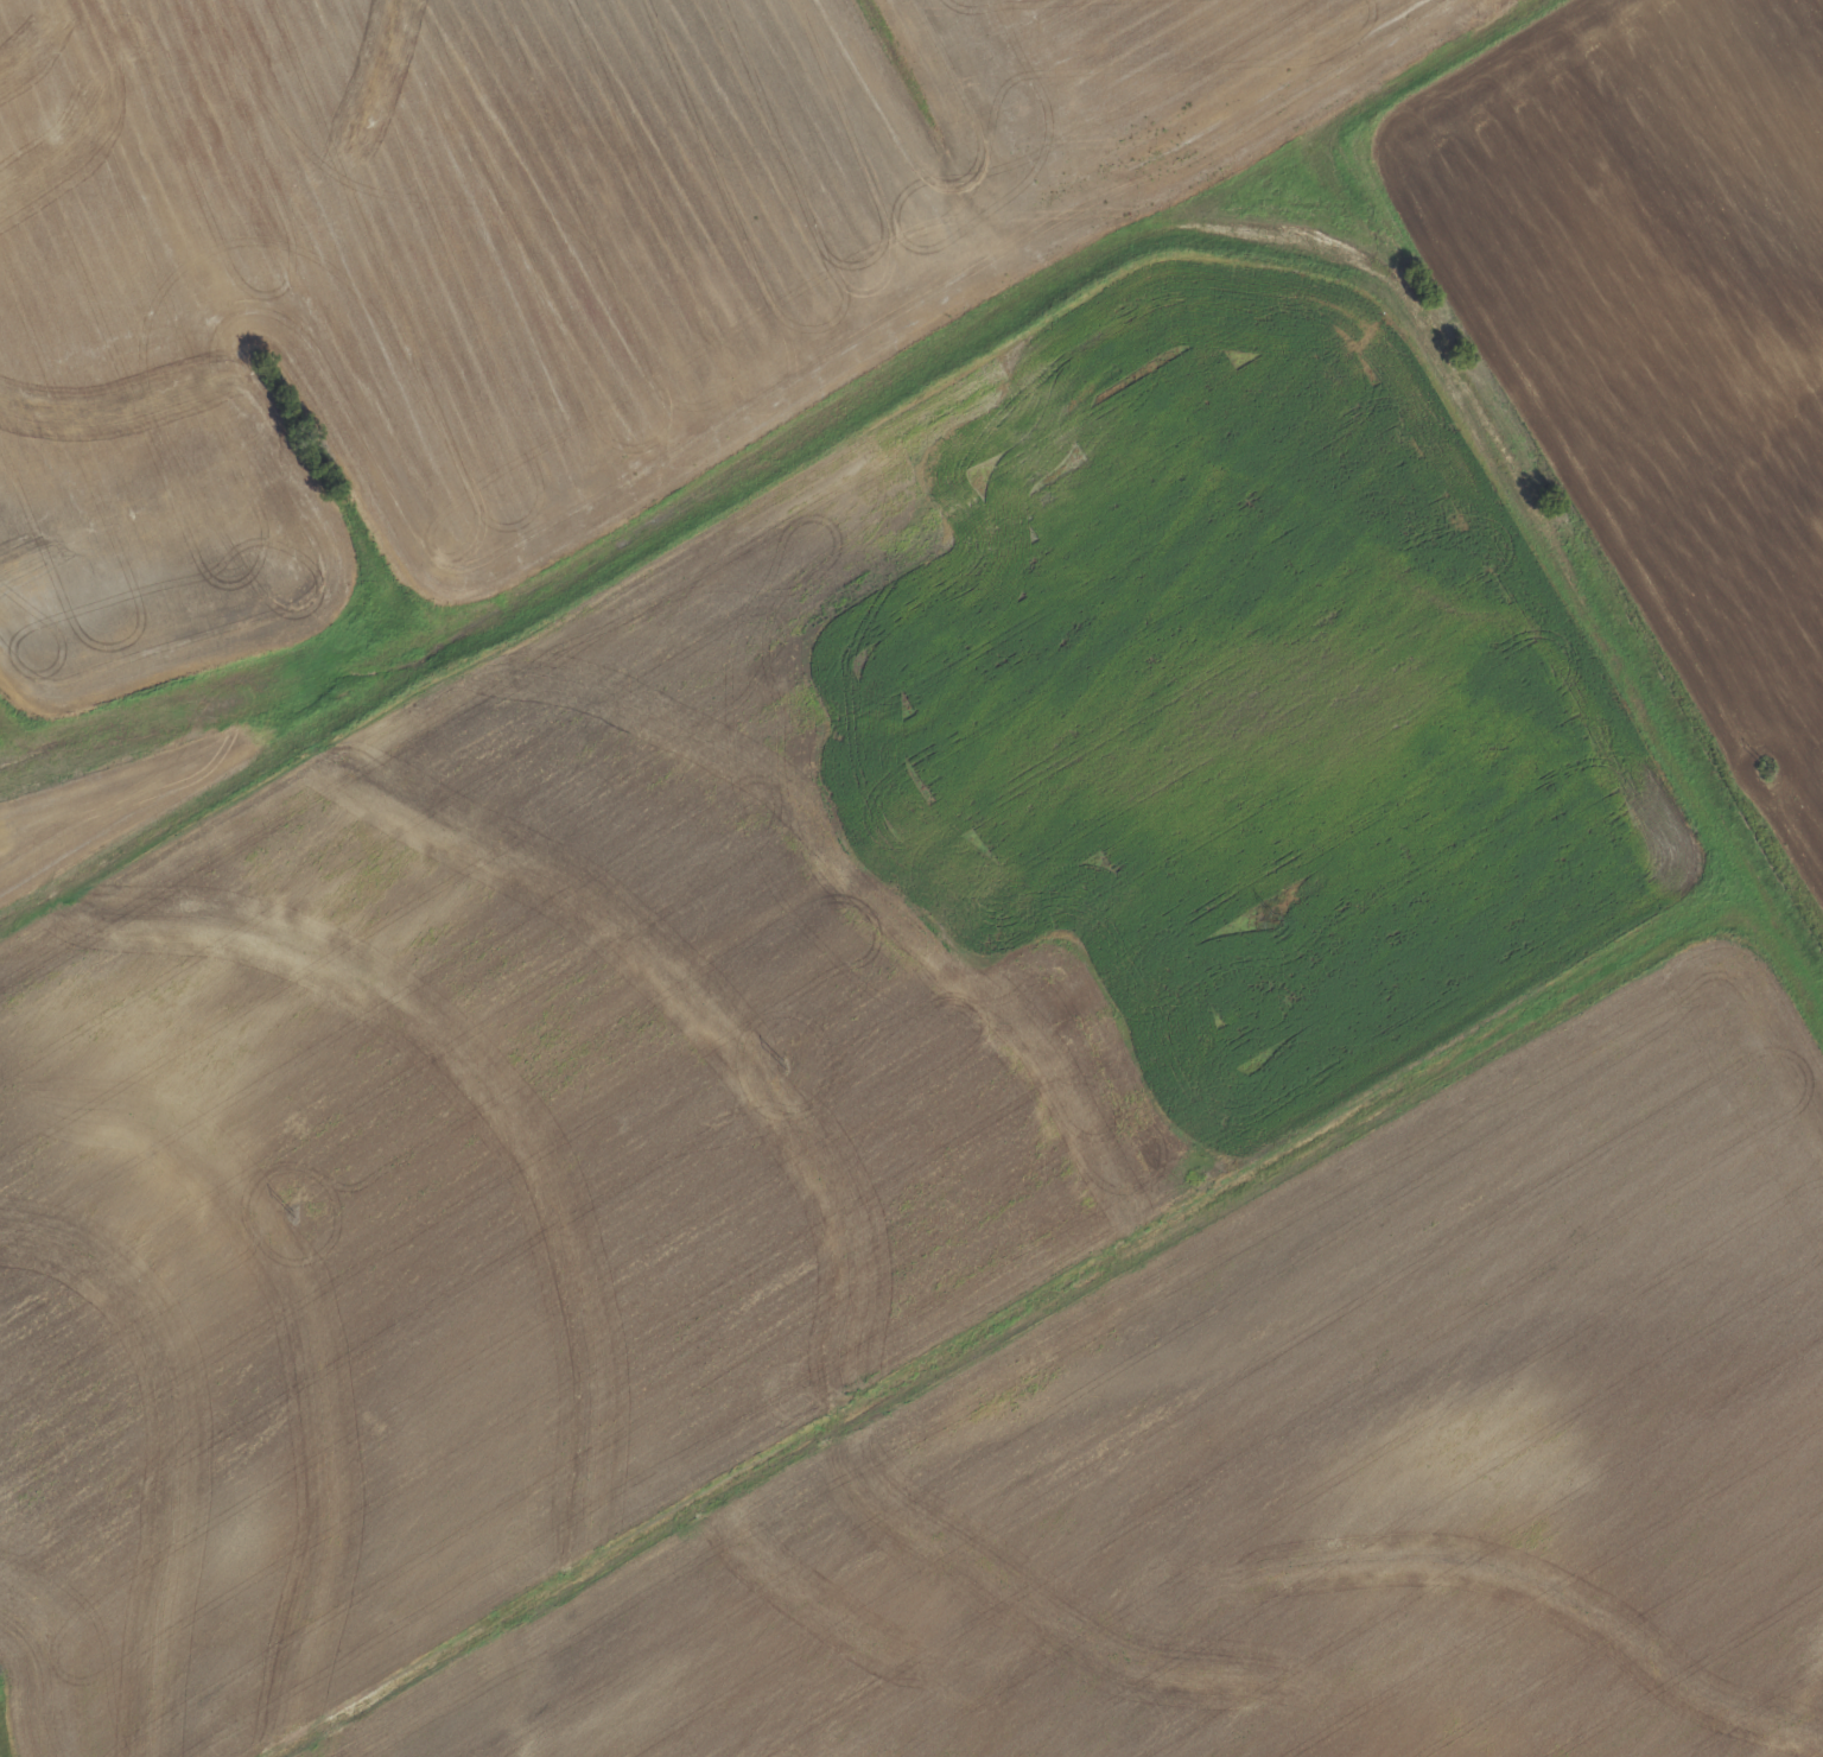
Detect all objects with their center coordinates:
power tower: (1767, 766)
power tower: (1278, 915)
power tower: (787, 1063)
power tower: (297, 1211)

